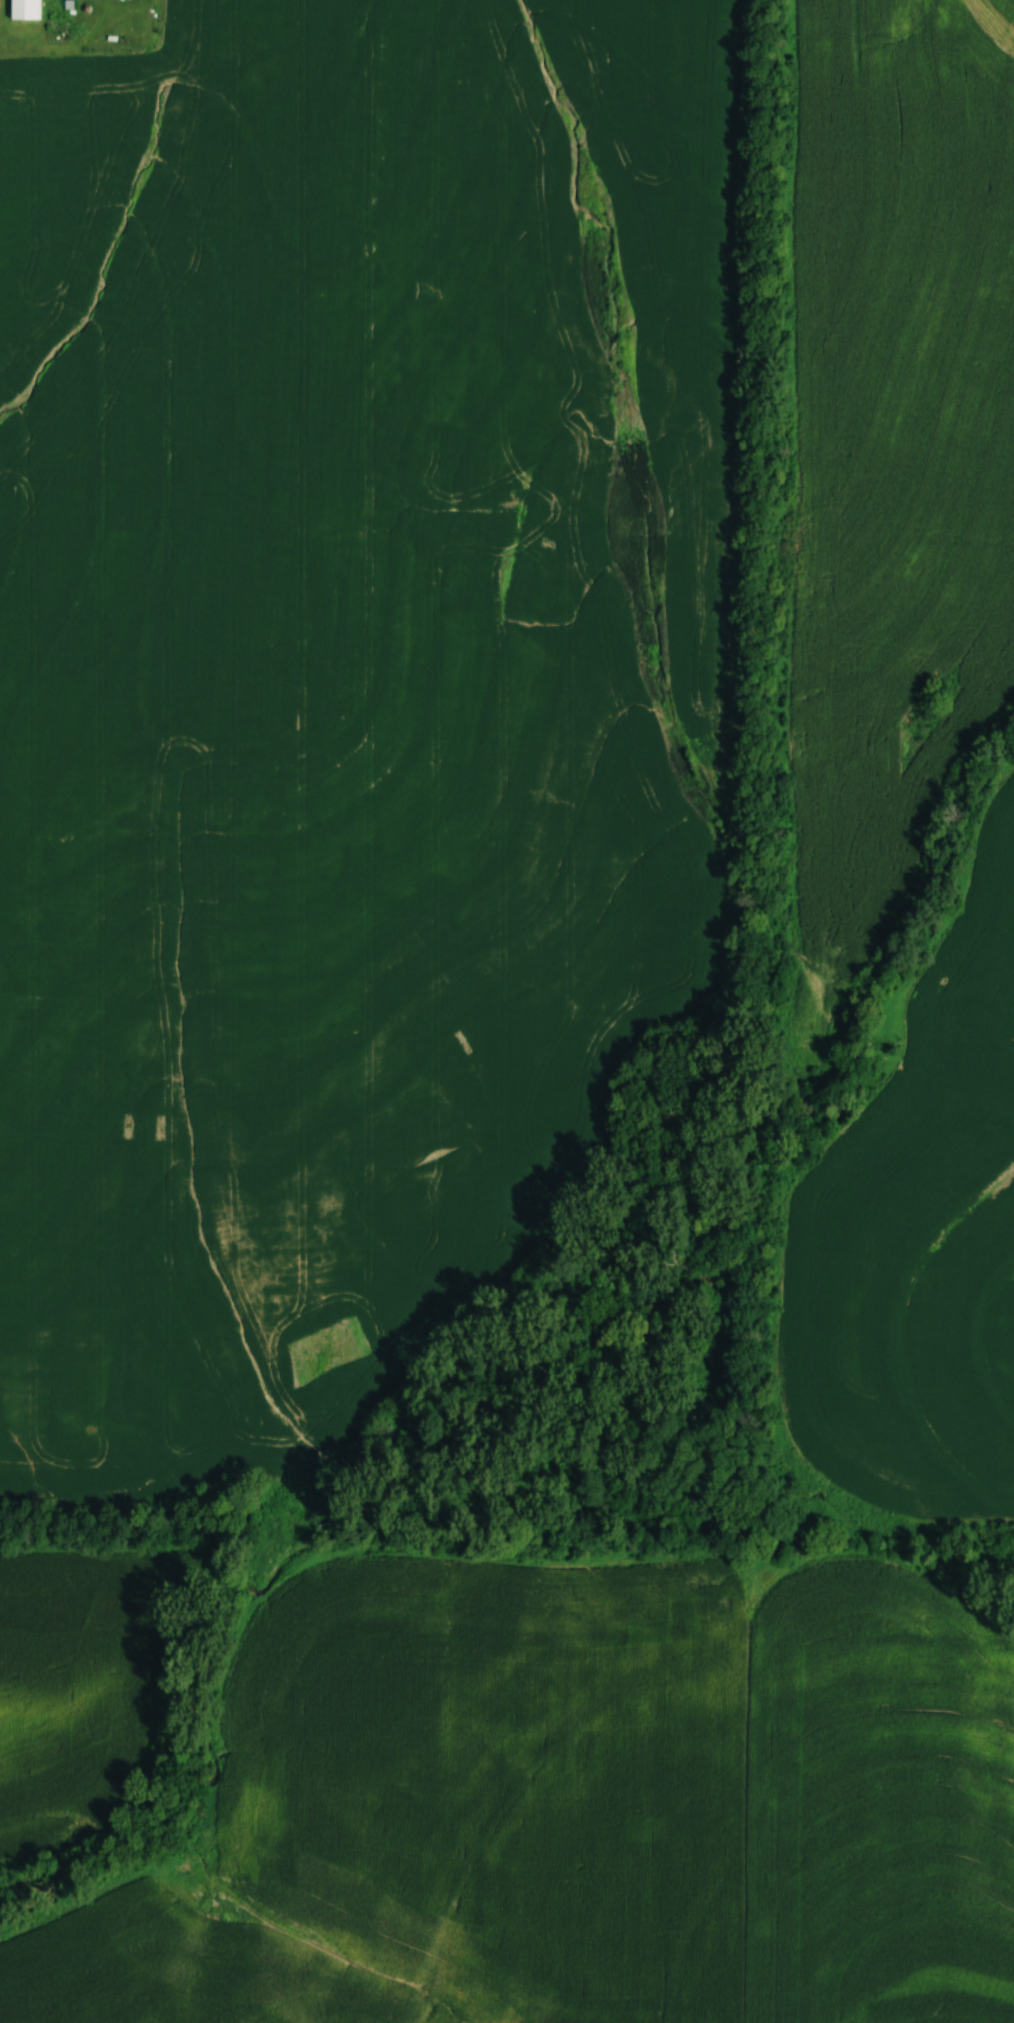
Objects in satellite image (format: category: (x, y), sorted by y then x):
building: (24, 9)

